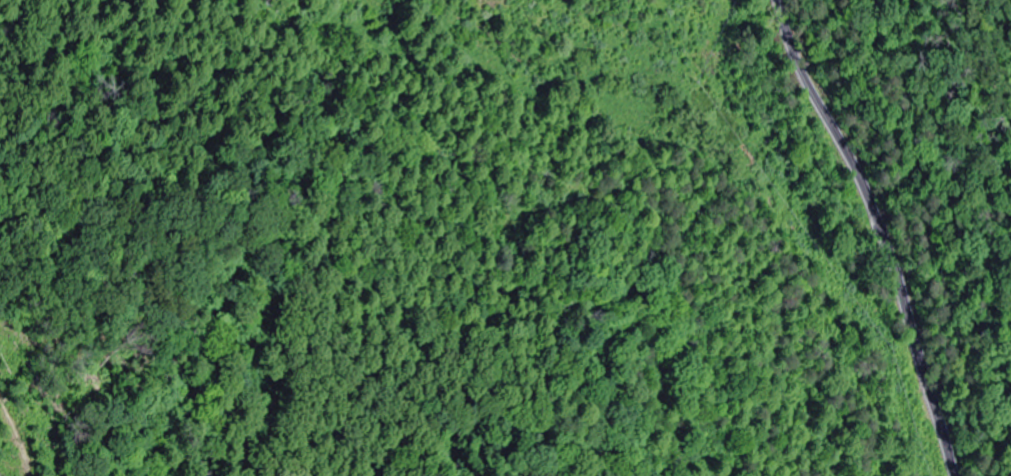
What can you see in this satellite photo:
road: (881, 231)

